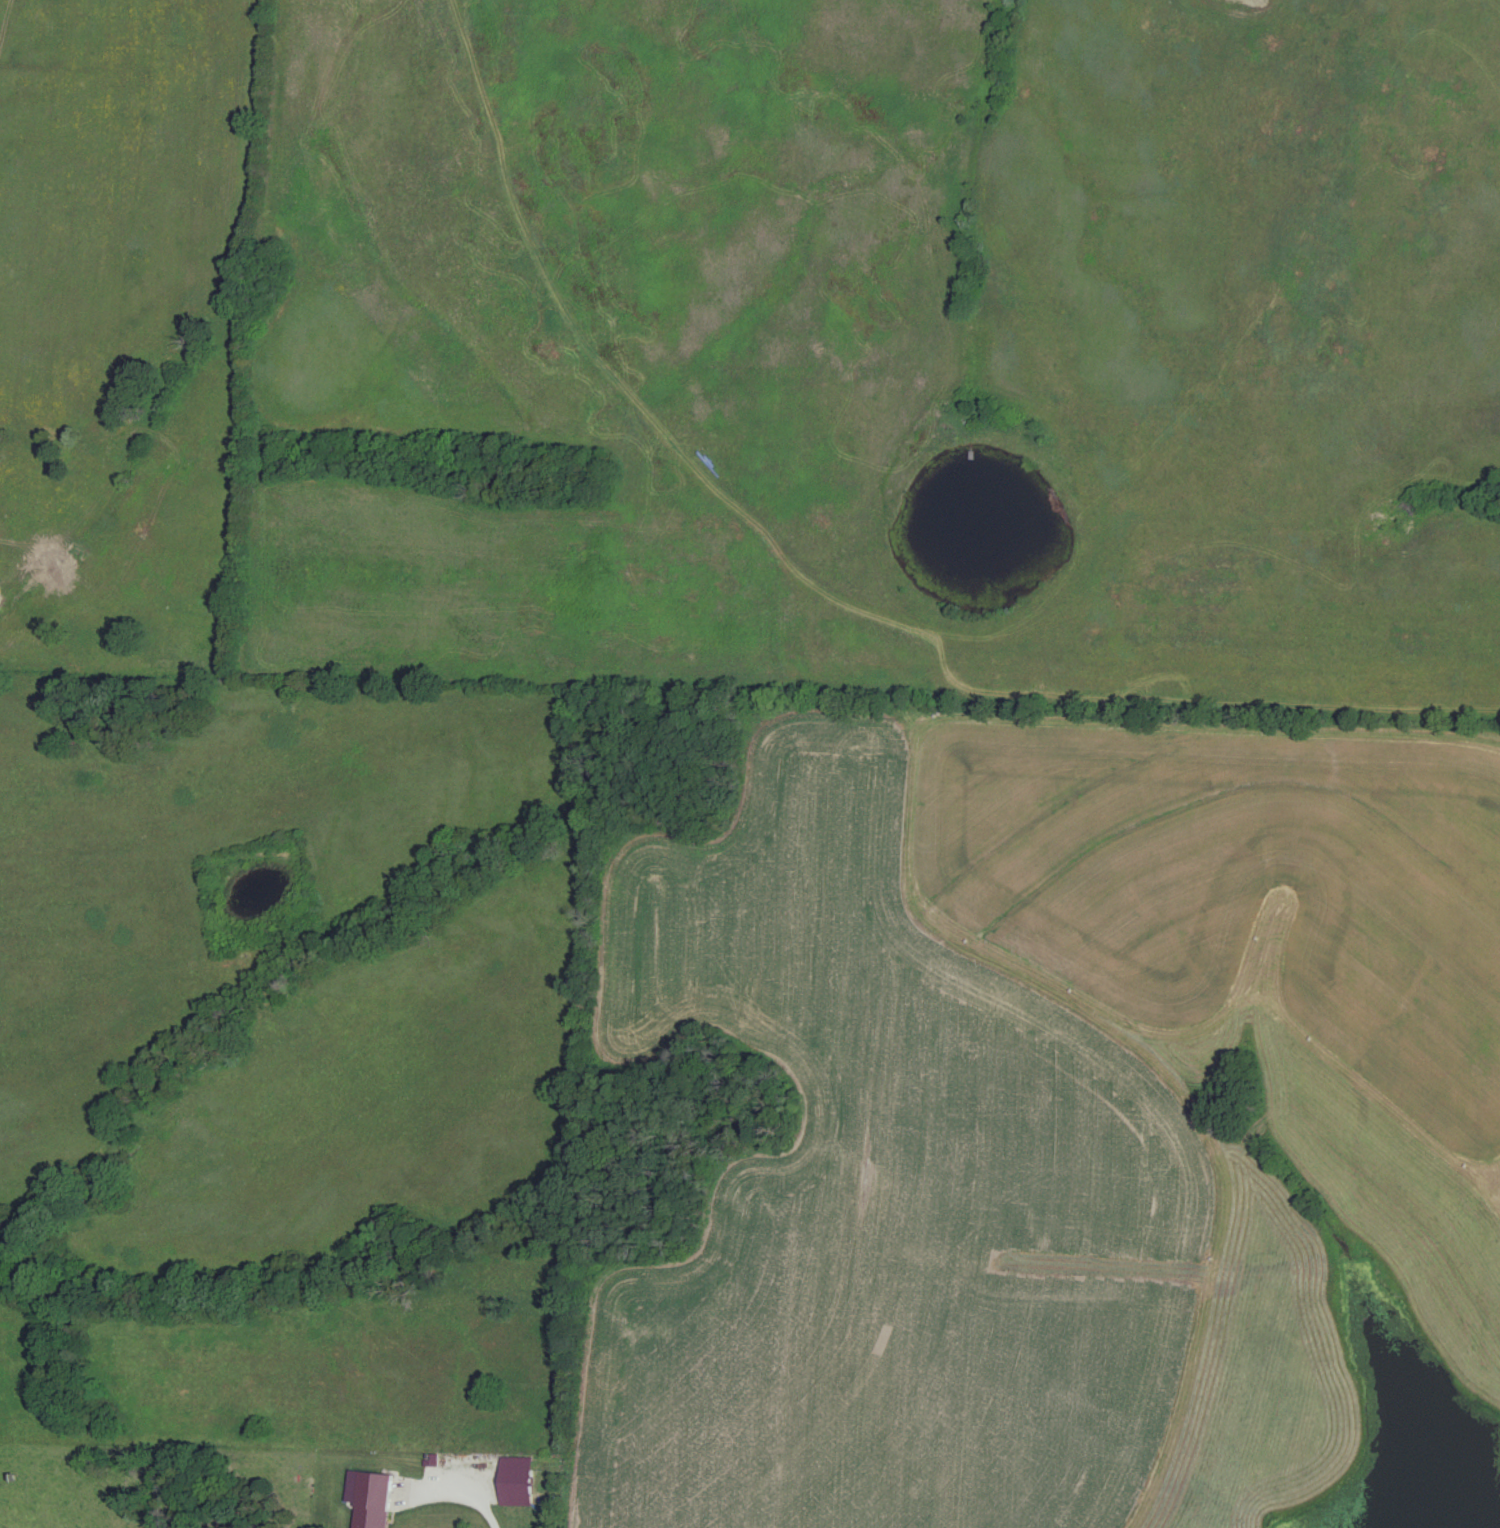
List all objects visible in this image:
building: (515, 1483)
road: (459, 1493)
building: (369, 1500)

